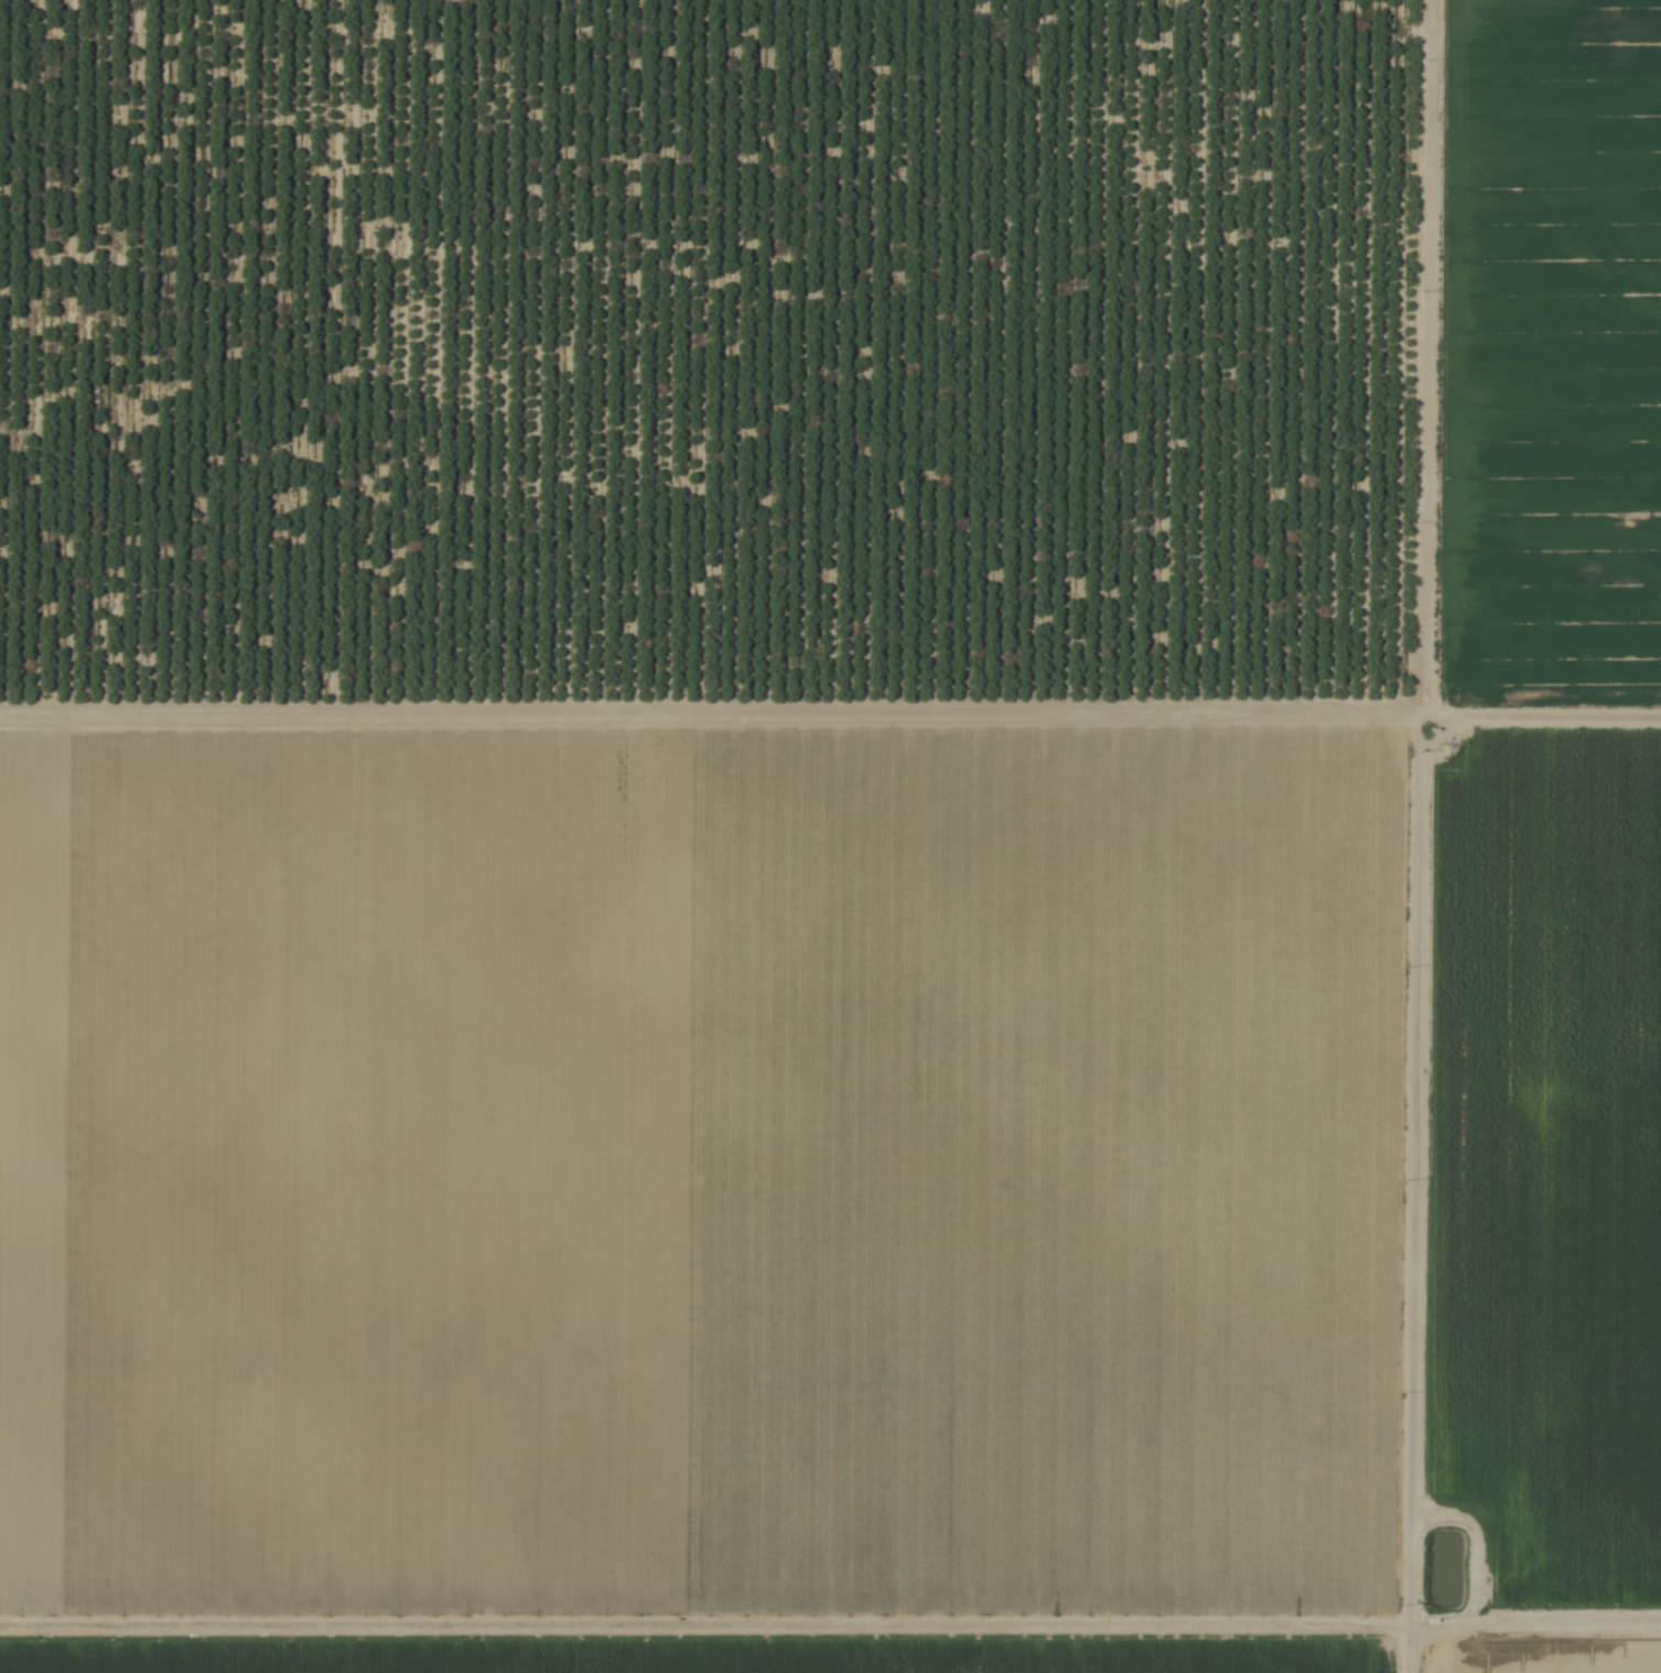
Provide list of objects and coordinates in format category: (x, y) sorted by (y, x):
crop: (830, 836)

